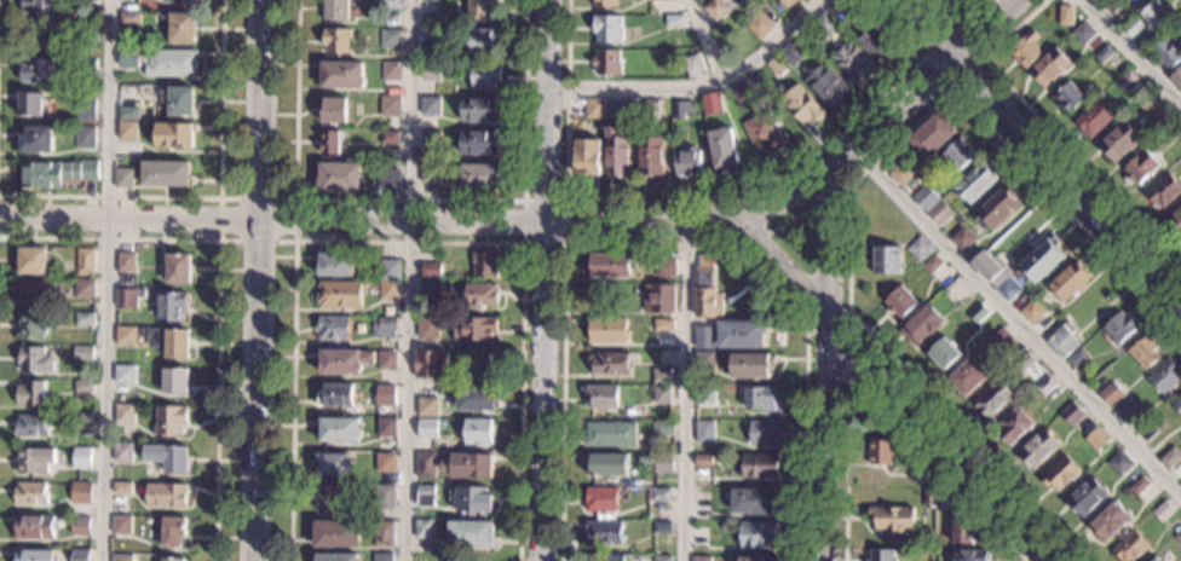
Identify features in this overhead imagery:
building: (88, 0)
building: (659, 0)
building: (1096, 0)
building: (179, 1)
building: (963, 1)
building: (605, 2)
building: (787, 2)
building: (38, 5)
building: (390, 5)
building: (1111, 6)
building: (715, 8)
building: (335, 10)
building: (482, 10)
building: (837, 10)
building: (1065, 15)
building: (1156, 17)
building: (129, 18)
building: (673, 21)
building: (434, 22)
building: (759, 25)
building: (824, 27)
building: (182, 28)
building: (606, 28)
road: (956, 28)
building: (1133, 28)
building: (1083, 31)
building: (390, 37)
building: (430, 39)
building: (336, 40)
road: (705, 40)
building: (482, 41)
building: (131, 45)
building: (875, 46)
building: (1025, 50)
road: (1134, 50)
building: (1166, 51)
building: (791, 53)
building: (1102, 53)
building: (131, 58)
road: (983, 59)
building: (606, 62)
building: (854, 62)
building: (172, 63)
building: (87, 64)
building: (693, 64)
building: (774, 66)
building: (1049, 66)
building: (36, 70)
building: (390, 71)
building: (431, 71)
building: (342, 75)
building: (484, 75)
building: (1176, 79)
building: (1125, 80)
road: (696, 83)
building: (828, 85)
building: (743, 92)
building: (1068, 97)
building: (180, 102)
building: (712, 103)
building: (30, 104)
building: (388, 105)
building: (802, 105)
building: (430, 106)
building: (1151, 106)
building: (594, 108)
building: (85, 109)
building: (615, 109)
building: (681, 109)
building: (333, 110)
building: (480, 110)
building: (650, 110)
building: (128, 114)
road: (887, 120)
building: (1093, 120)
building: (1173, 128)
building: (127, 131)
building: (764, 133)
road: (1053, 133)
building: (174, 134)
building: (932, 135)
building: (83, 137)
building: (388, 138)
building: (36, 139)
building: (430, 139)
building: (1119, 141)
building: (330, 143)
building: (479, 143)
road: (1039, 149)
building: (722, 150)
building: (615, 151)
building: (958, 155)
building: (651, 156)
building: (587, 157)
building: (686, 162)
building: (1140, 167)
building: (54, 173)
building: (165, 173)
building: (903, 173)
building: (428, 174)
building: (338, 177)
building: (482, 177)
building: (122, 179)
building: (388, 179)
road: (848, 183)
road: (848, 183)
building: (975, 183)
building: (1163, 191)
road: (208, 197)
building: (926, 197)
road: (707, 198)
road: (410, 199)
building: (996, 208)
building: (940, 213)
road: (793, 220)
building: (1176, 220)
road: (369, 225)
road: (748, 238)
building: (963, 238)
road: (294, 239)
road: (407, 241)
road: (565, 243)
road: (662, 243)
building: (920, 249)
building: (887, 260)
building: (1041, 260)
building: (33, 261)
building: (85, 261)
building: (126, 262)
building: (932, 264)
building: (336, 265)
building: (484, 265)
building: (611, 266)
building: (666, 267)
building: (990, 268)
building: (178, 270)
building: (388, 270)
building: (430, 271)
road: (105, 279)
road: (257, 279)
road: (410, 279)
road: (543, 280)
building: (1070, 280)
building: (83, 288)
building: (430, 289)
building: (707, 289)
building: (1007, 289)
building: (35, 290)
road: (218, 290)
building: (388, 290)
building: (956, 291)
building: (339, 294)
building: (480, 295)
building: (125, 299)
building: (658, 299)
building: (900, 302)
building: (171, 306)
building: (1032, 311)
building: (977, 312)
building: (83, 319)
building: (663, 324)
road: (1016, 324)
building: (30, 325)
building: (922, 325)
building: (382, 326)
building: (1119, 326)
building: (333, 328)
building: (427, 328)
building: (473, 329)
building: (607, 330)
building: (741, 334)
building: (127, 335)
building: (703, 336)
building: (1001, 340)
building: (1062, 340)
building: (169, 341)
building: (1145, 352)
building: (82, 353)
building: (944, 354)
road: (848, 357)
building: (1077, 358)
building: (34, 359)
building: (386, 359)
building: (344, 362)
building: (704, 362)
building: (1024, 362)
building: (610, 363)
building: (432, 364)
road: (828, 364)
building: (751, 365)
building: (1111, 369)
building: (123, 374)
building: (661, 376)
building: (968, 376)
building: (1164, 376)
building: (174, 381)
building: (82, 386)
building: (1047, 386)
road: (894, 388)
road: (685, 392)
building: (31, 393)
building: (385, 394)
building: (661, 394)
building: (1111, 394)
building: (335, 395)
building: (601, 397)
building: (702, 397)
building: (474, 398)
building: (760, 398)
building: (993, 398)
road: (874, 400)
building: (1177, 403)
building: (427, 406)
building: (1124, 407)
building: (125, 413)
building: (1072, 413)
building: (82, 418)
building: (169, 420)
building: (30, 426)
building: (1014, 427)
building: (386, 428)
building: (427, 428)
building: (662, 428)
building: (339, 429)
building: (478, 432)
building: (704, 432)
building: (765, 433)
building: (609, 434)
building: (1096, 439)
building: (1039, 449)
building: (122, 452)
building: (881, 452)
building: (81, 457)
building: (168, 457)
building: (1170, 457)
building: (35, 459)
building: (703, 461)
building: (385, 463)
building: (663, 463)
building: (1119, 463)
building: (332, 464)
building: (607, 464)
building: (425, 465)
building: (468, 465)
building: (757, 467)
building: (1060, 473)
building: (904, 478)
building: (1139, 486)
building: (121, 487)
building: (30, 492)
building: (81, 493)
building: (166, 495)
building: (659, 495)
building: (425, 496)
building: (941, 496)
building: (384, 497)
building: (1087, 497)
building: (931, 498)
building: (471, 499)
building: (600, 499)
building: (332, 501)
building: (754, 502)
building: (1163, 511)
building: (892, 517)
building: (1110, 521)
building: (80, 525)
building: (122, 526)
building: (661, 526)
building: (35, 527)
building: (173, 531)
building: (422, 531)
building: (962, 531)
building: (603, 532)
building: (335, 533)
building: (382, 533)
building: (469, 534)
building: (756, 534)
building: (1179, 538)
building: (1130, 546)
building: (35, 555)
building: (80, 555)
building: (882, 555)
building: (970, 555)
building: (122, 557)
building: (336, 557)
building: (381, 557)
building: (604, 557)
building: (661, 559)
building: (701, 559)
building: (756, 559)
building: (172, 560)
building: (1154, 560)

